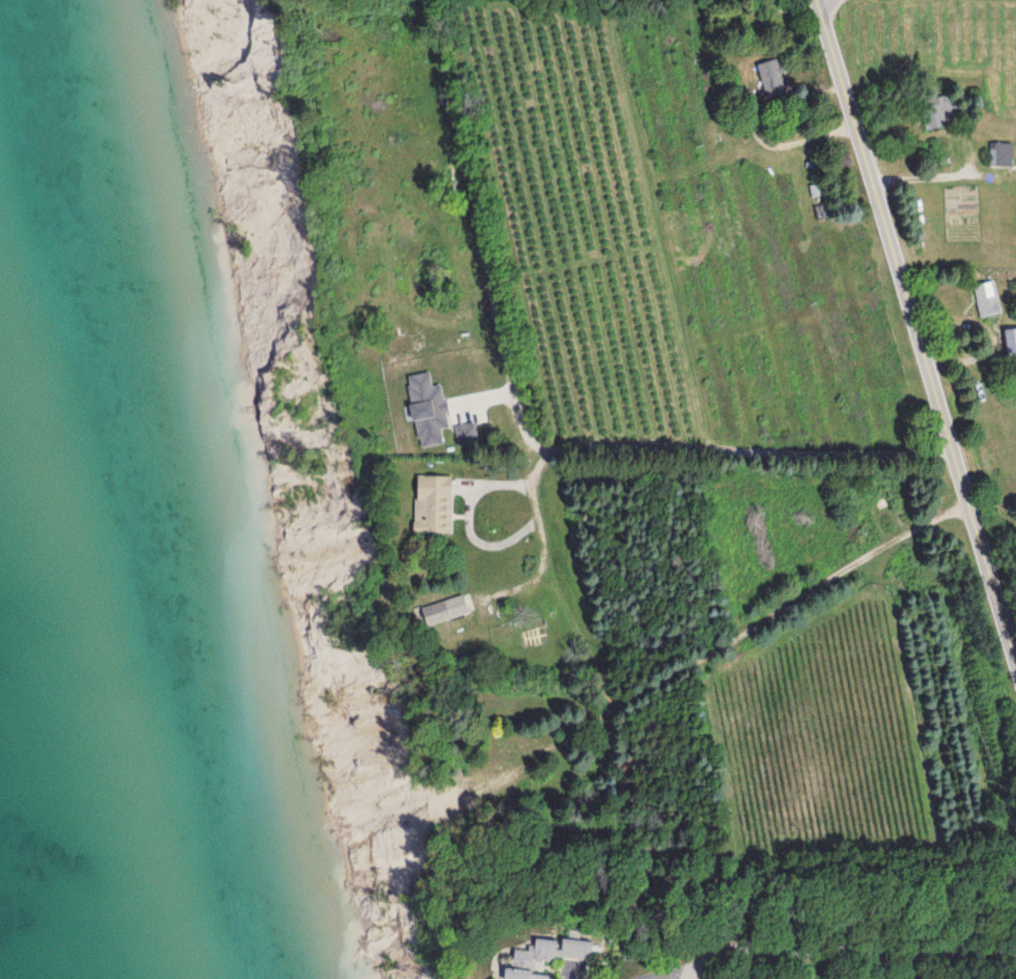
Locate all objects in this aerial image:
building: (774, 79)
building: (1005, 155)
building: (821, 202)
building: (990, 299)
road: (917, 330)
road: (695, 473)
building: (443, 504)
road: (791, 593)
building: (455, 610)
road: (847, 951)
building: (558, 956)

